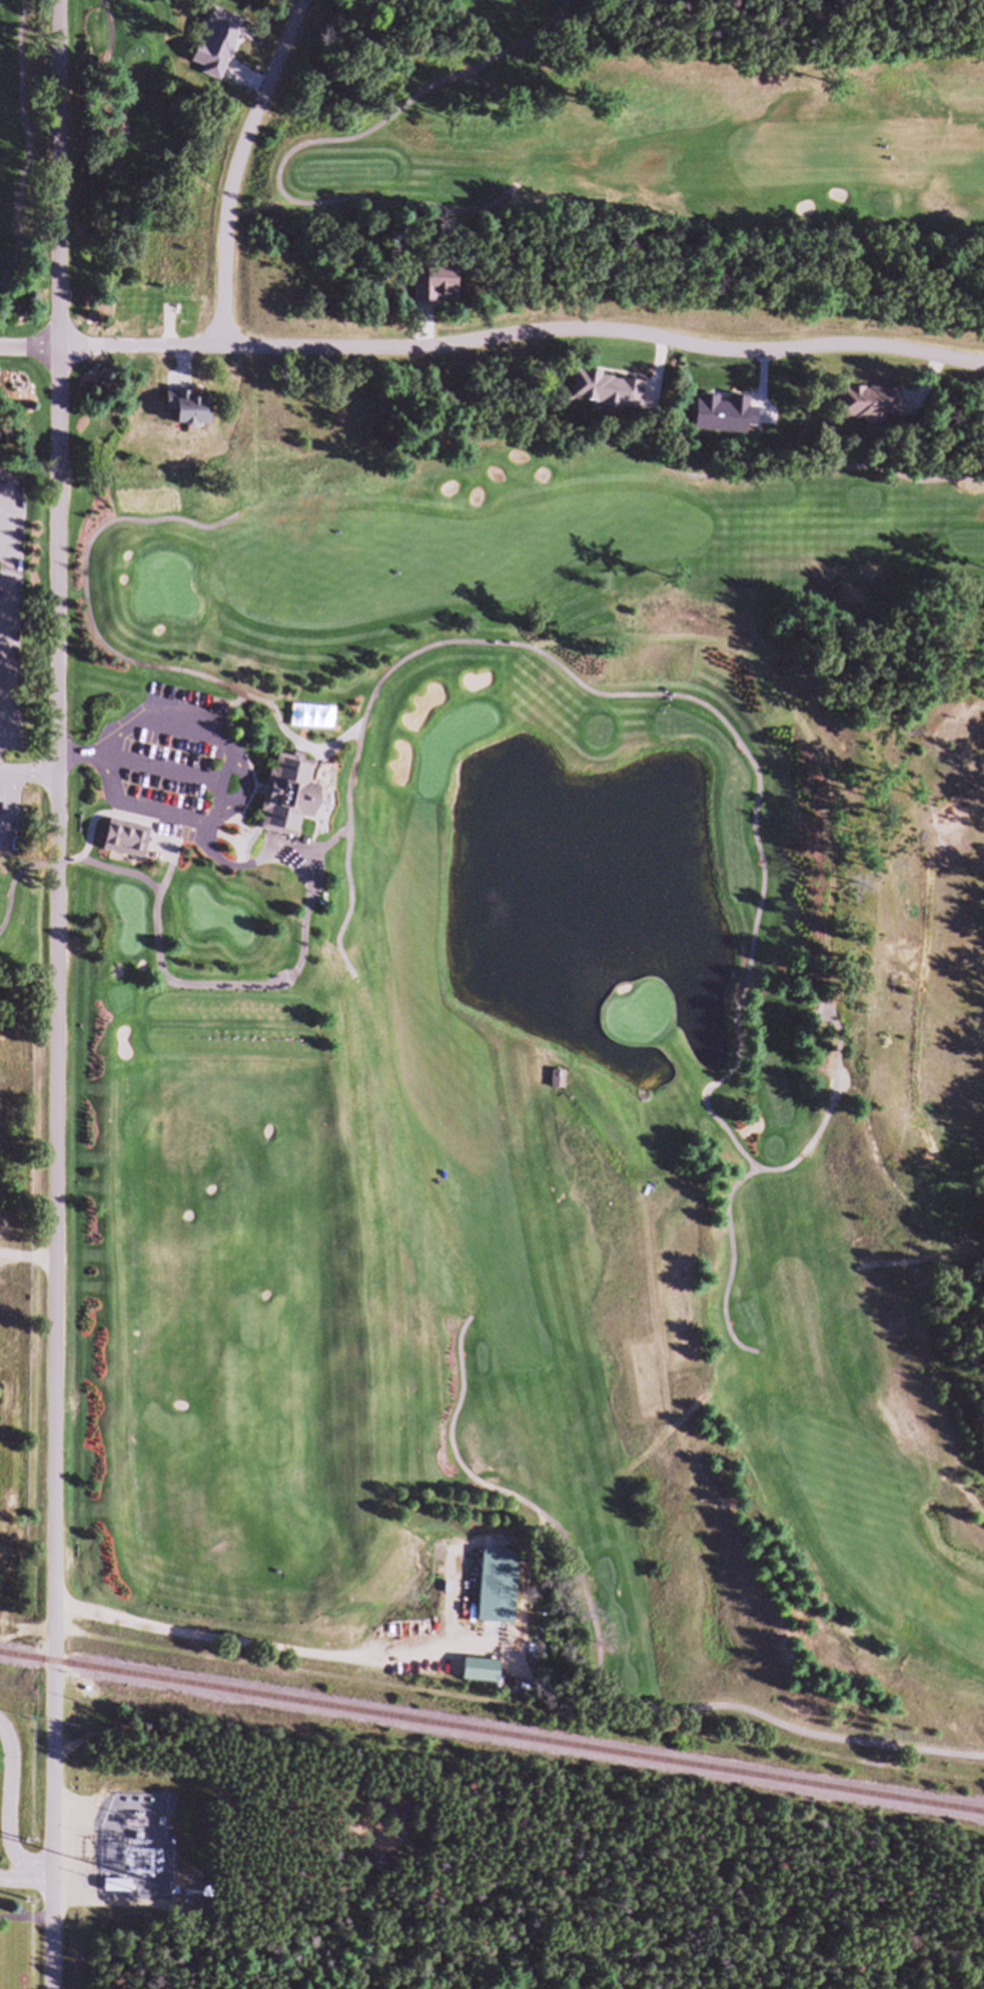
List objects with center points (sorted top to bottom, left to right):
building: (218, 50)
park: (659, 141)
road: (32, 151)
road: (245, 170)
road: (439, 217)
road: (524, 342)
road: (30, 356)
building: (607, 399)
building: (870, 410)
building: (186, 416)
road: (9, 617)
road: (117, 662)
road: (642, 703)
road: (232, 719)
parking lot: (169, 765)
road: (145, 771)
road: (31, 781)
road: (227, 788)
road: (247, 802)
building: (288, 804)
parking lot: (17, 816)
road: (26, 819)
building: (129, 848)
road: (250, 872)
road: (162, 936)
road: (62, 994)
road: (817, 1003)
park: (508, 1041)
building: (563, 1087)
road: (904, 1200)
road: (735, 1207)
road: (30, 1267)
road: (906, 1276)
road: (936, 1399)
building: (499, 1594)
road: (301, 1659)
road: (607, 1673)
building: (487, 1678)
railway: (491, 1739)
road: (16, 1816)
building: (397, 1819)
power substation: (146, 1836)
road: (45, 1882)

